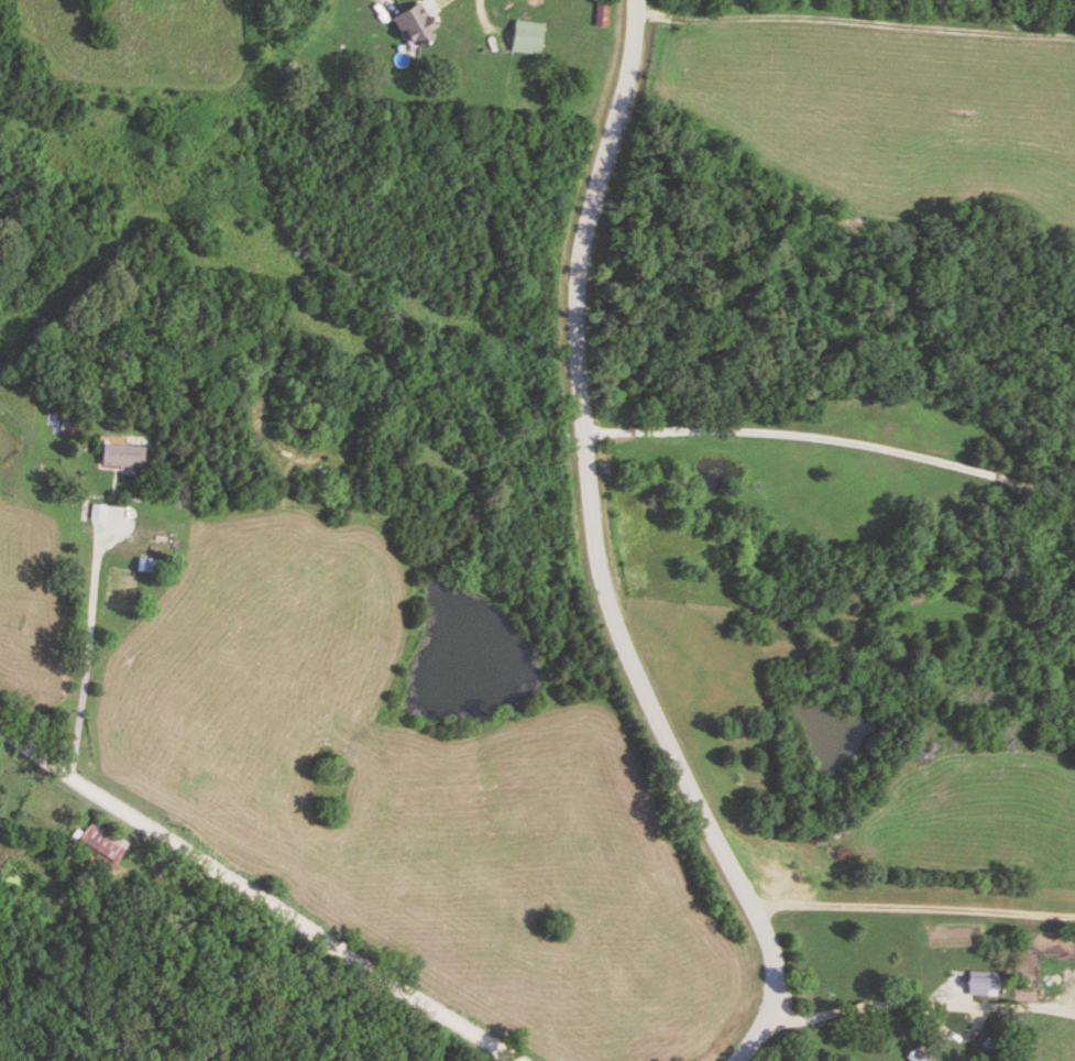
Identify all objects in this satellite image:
building: (415, 26)
building: (526, 37)
road: (831, 437)
building: (122, 457)
road: (596, 553)
building: (147, 565)
road: (83, 656)
building: (102, 841)
road: (911, 906)
road: (250, 907)
road: (919, 1002)
building: (918, 1054)

